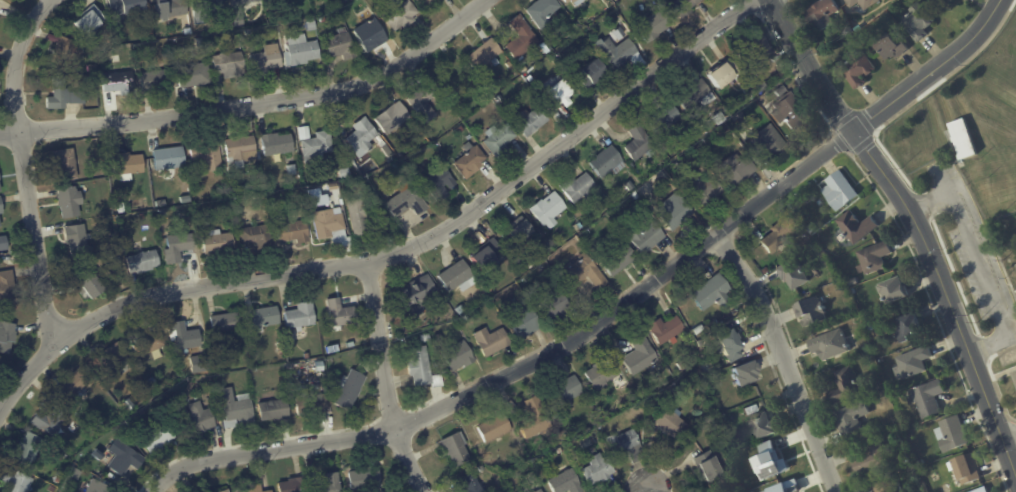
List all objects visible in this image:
building: (570, 0)
building: (952, 0)
building: (245, 1)
building: (577, 1)
building: (426, 3)
building: (861, 4)
building: (127, 6)
building: (210, 7)
building: (685, 7)
building: (173, 8)
building: (546, 12)
building: (399, 13)
building: (821, 15)
building: (91, 20)
building: (323, 20)
building: (241, 21)
building: (916, 24)
building: (312, 25)
building: (599, 26)
building: (655, 26)
building: (189, 31)
building: (370, 33)
building: (845, 34)
building: (602, 37)
building: (524, 38)
building: (339, 44)
building: (140, 48)
building: (892, 48)
building: (761, 49)
building: (303, 50)
building: (68, 53)
building: (619, 53)
building: (486, 56)
building: (576, 57)
building: (269, 60)
building: (231, 64)
road: (812, 66)
building: (93, 68)
building: (115, 68)
building: (857, 71)
road: (931, 71)
building: (593, 73)
building: (197, 75)
building: (724, 75)
building: (456, 78)
building: (531, 78)
building: (94, 79)
building: (151, 81)
building: (86, 82)
building: (120, 83)
building: (758, 88)
building: (780, 91)
building: (560, 92)
building: (64, 94)
building: (699, 95)
building: (425, 103)
building: (757, 103)
road: (257, 105)
building: (557, 113)
building: (792, 113)
building: (740, 117)
building: (394, 118)
building: (722, 118)
building: (668, 119)
building: (533, 122)
building: (463, 129)
building: (306, 133)
building: (365, 136)
building: (471, 137)
building: (962, 138)
building: (501, 139)
building: (383, 143)
building: (770, 143)
building: (278, 144)
building: (643, 144)
building: (319, 146)
building: (242, 151)
building: (390, 151)
building: (208, 154)
building: (403, 154)
building: (170, 161)
building: (471, 161)
building: (609, 162)
building: (67, 163)
building: (129, 164)
road: (26, 169)
building: (739, 170)
building: (347, 173)
building: (384, 174)
building: (440, 183)
building: (1, 184)
building: (336, 186)
building: (631, 186)
building: (247, 188)
building: (580, 188)
building: (266, 189)
building: (234, 191)
building: (839, 191)
building: (708, 192)
building: (316, 193)
building: (122, 194)
building: (637, 195)
building: (404, 198)
building: (190, 201)
building: (71, 202)
building: (1, 206)
building: (123, 208)
building: (549, 209)
building: (225, 211)
building: (678, 213)
building: (364, 215)
building: (143, 216)
building: (329, 223)
building: (0, 224)
road: (911, 224)
building: (581, 226)
building: (856, 227)
building: (811, 229)
building: (295, 231)
building: (520, 231)
building: (778, 233)
building: (259, 237)
building: (648, 238)
building: (78, 240)
building: (217, 242)
building: (4, 243)
building: (180, 247)
road: (396, 252)
building: (487, 256)
building: (873, 258)
parking lot: (976, 258)
building: (620, 260)
building: (145, 262)
building: (532, 265)
road: (979, 265)
building: (1013, 265)
building: (0, 266)
building: (764, 270)
building: (549, 272)
building: (585, 273)
building: (792, 273)
building: (456, 275)
building: (852, 282)
building: (89, 284)
building: (8, 288)
building: (491, 289)
building: (893, 290)
building: (418, 291)
building: (713, 294)
road: (633, 299)
building: (556, 306)
building: (461, 310)
building: (810, 312)
building: (341, 313)
building: (302, 317)
building: (863, 318)
building: (263, 319)
building: (525, 321)
building: (228, 323)
building: (905, 325)
building: (869, 326)
building: (666, 329)
building: (699, 330)
building: (184, 336)
building: (7, 337)
building: (711, 337)
building: (426, 338)
building: (439, 338)
building: (492, 342)
building: (830, 345)
building: (150, 346)
building: (729, 346)
building: (866, 349)
building: (874, 354)
building: (307, 355)
building: (642, 355)
building: (458, 356)
building: (113, 361)
road: (780, 361)
building: (911, 363)
building: (202, 364)
building: (684, 365)
building: (321, 367)
building: (423, 368)
building: (745, 373)
building: (603, 374)
building: (171, 377)
building: (151, 381)
road: (385, 381)
building: (75, 385)
building: (200, 385)
building: (845, 386)
building: (350, 388)
building: (681, 389)
building: (156, 391)
building: (646, 392)
building: (258, 393)
building: (567, 394)
building: (926, 398)
road: (984, 400)
building: (130, 404)
building: (311, 404)
building: (241, 411)
building: (275, 411)
building: (49, 420)
building: (535, 420)
building: (850, 421)
building: (200, 423)
building: (674, 425)
building: (769, 426)
building: (904, 428)
building: (495, 429)
road: (1006, 432)
building: (950, 434)
building: (891, 435)
building: (125, 436)
building: (159, 438)
building: (627, 446)
building: (458, 448)
road: (265, 449)
building: (29, 450)
building: (560, 451)
building: (64, 456)
building: (123, 458)
building: (869, 458)
building: (769, 461)
building: (710, 465)
building: (966, 468)
building: (911, 469)
building: (599, 470)
building: (941, 470)
building: (76, 473)
building: (57, 478)
building: (366, 478)
building: (17, 481)
building: (566, 483)
building: (331, 484)
building: (472, 484)
building: (884, 484)
building: (295, 486)
building: (98, 487)
building: (784, 487)
building: (253, 488)
building: (53, 489)
road: (639, 489)
building: (223, 490)
building: (979, 490)
building: (228, 491)
building: (270, 491)
building: (541, 491)

